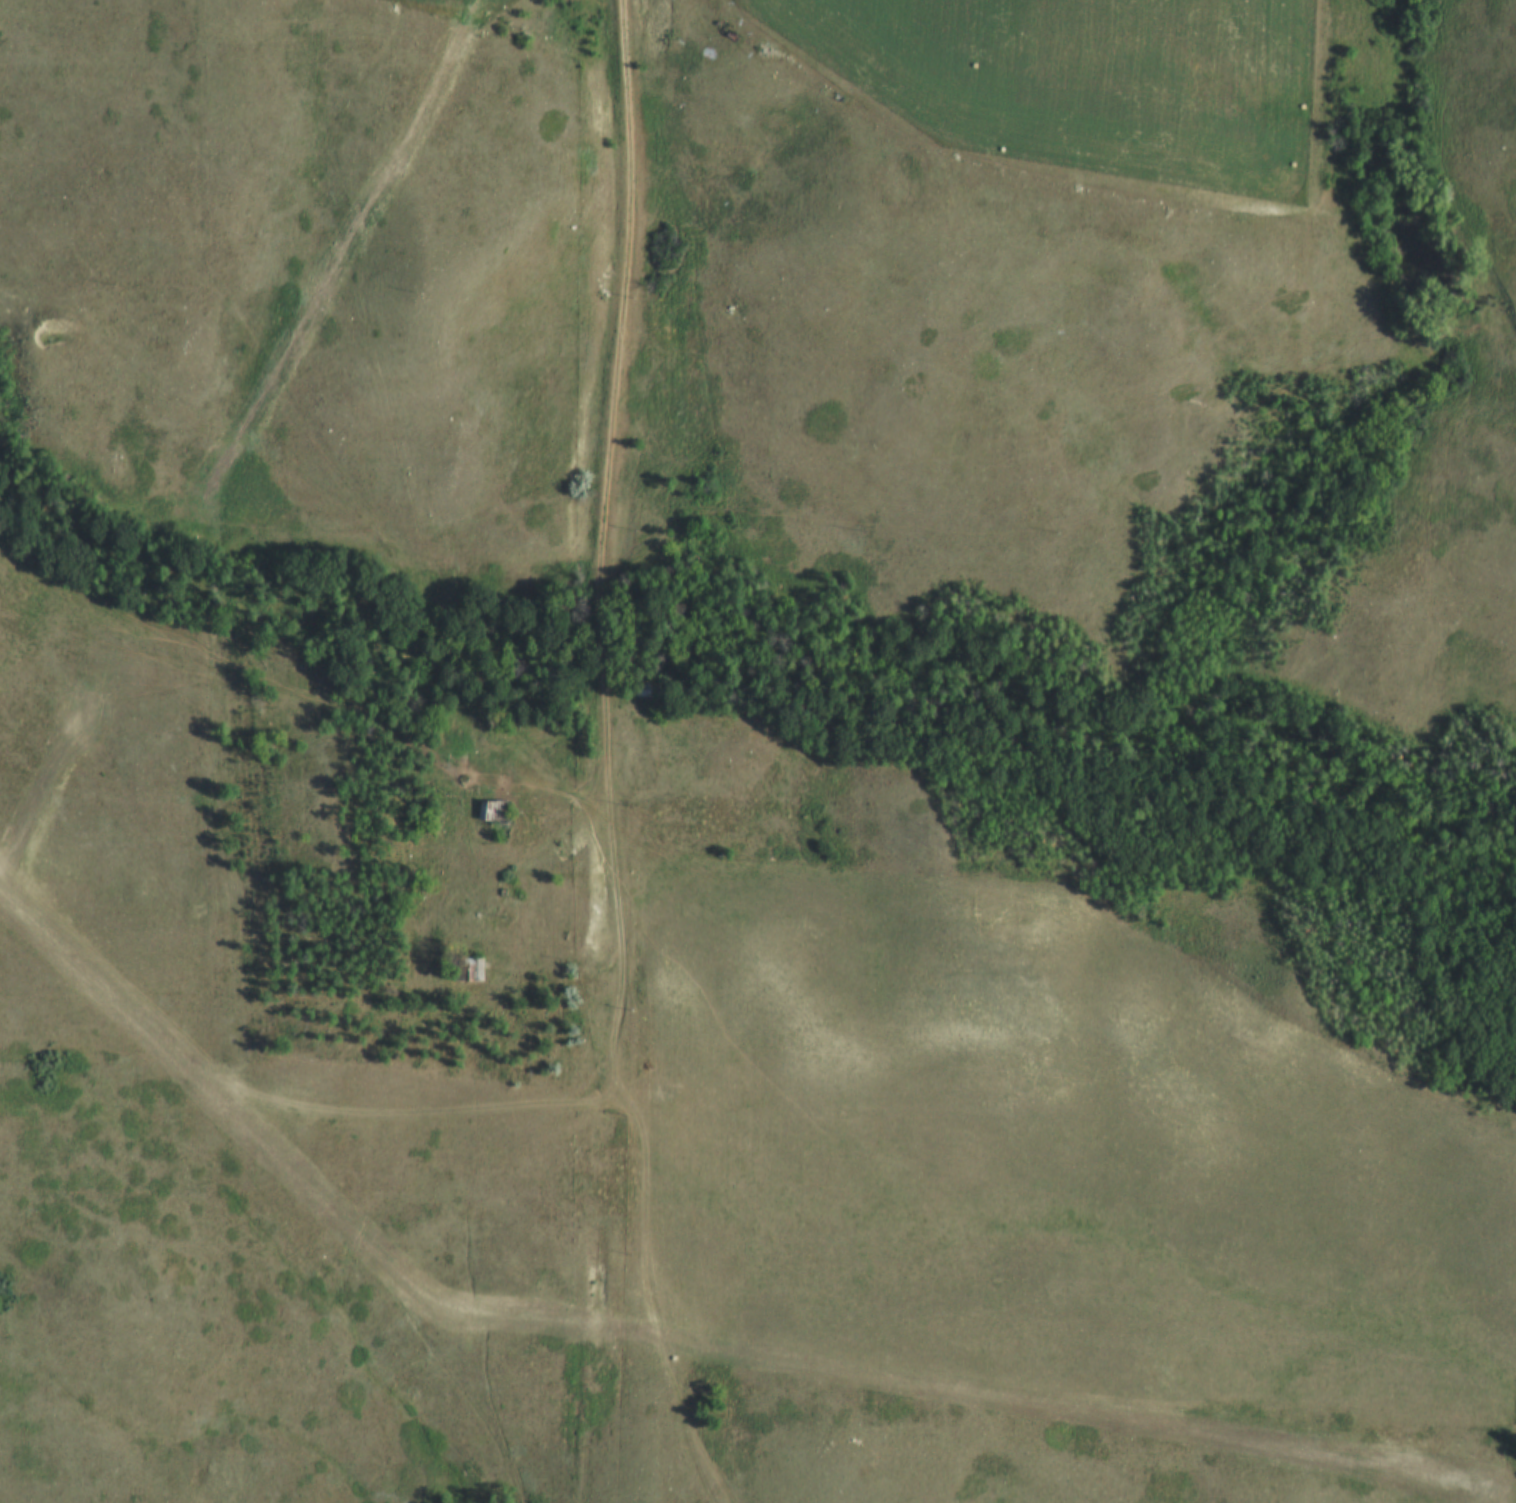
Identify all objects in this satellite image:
road: (622, 26)
building: (646, 691)
building: (493, 813)

